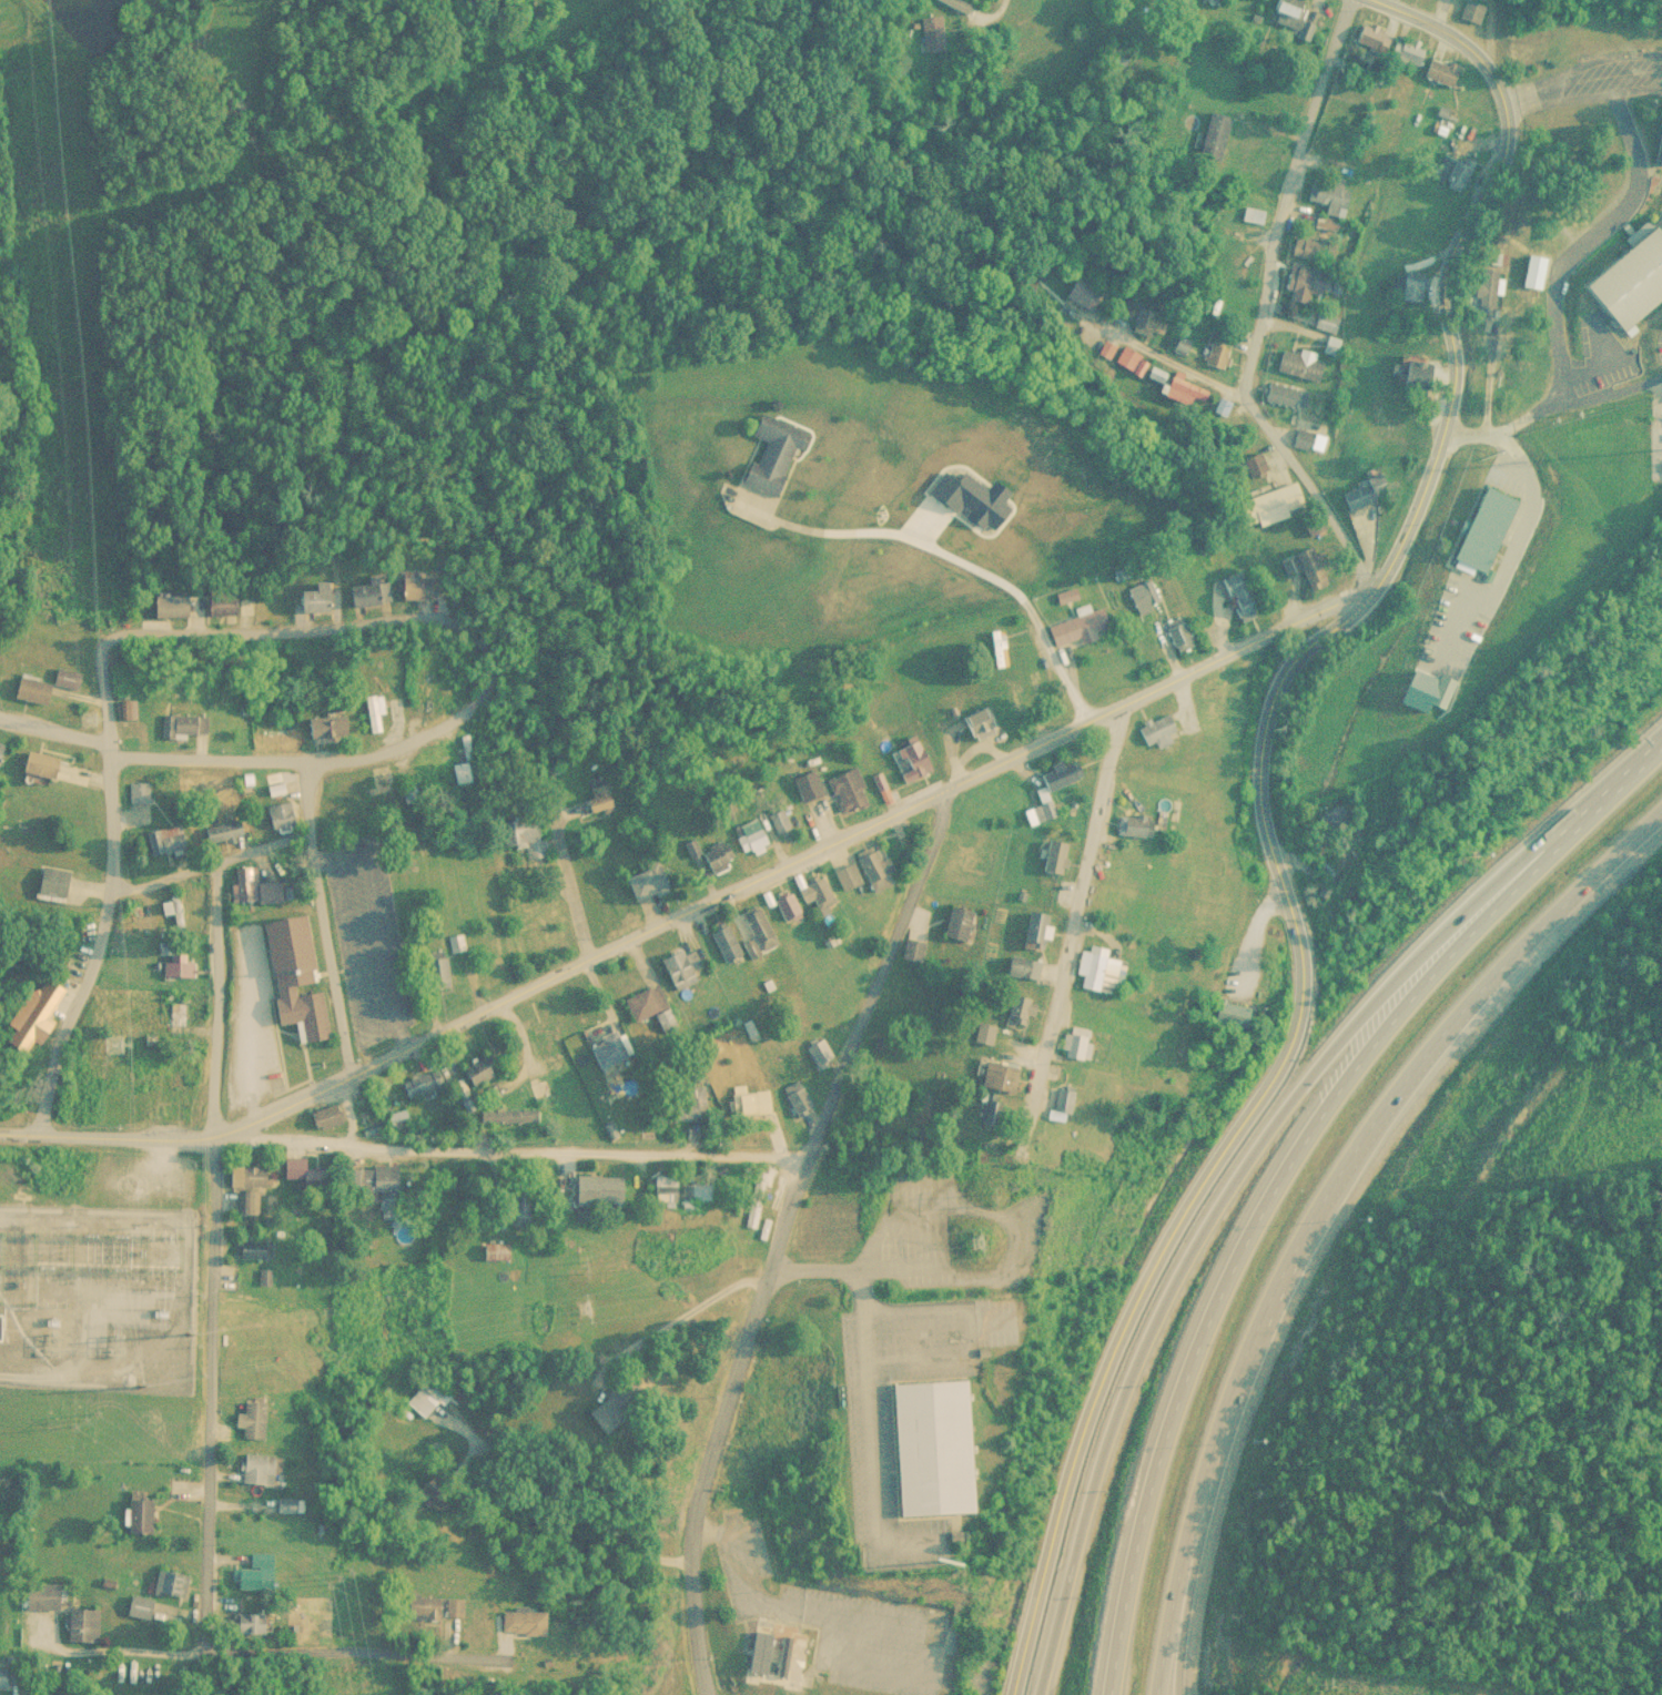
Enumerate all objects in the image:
building: (1208, 0)
building: (1175, 7)
road: (1004, 9)
building: (1471, 10)
road: (1398, 14)
building: (1291, 17)
building: (932, 32)
building: (1365, 32)
building: (1403, 49)
building: (1436, 69)
building: (1213, 134)
building: (1453, 170)
building: (1328, 195)
building: (1325, 222)
building: (1310, 248)
road: (1263, 253)
building: (1492, 257)
building: (1625, 275)
building: (1301, 281)
building: (1406, 284)
building: (1482, 290)
building: (1094, 296)
road: (1440, 297)
building: (1326, 321)
building: (1215, 348)
building: (1298, 363)
building: (1407, 369)
building: (1180, 389)
building: (1281, 394)
building: (778, 457)
building: (1253, 461)
road: (1111, 489)
building: (1358, 491)
building: (1268, 504)
building: (950, 514)
building: (1479, 528)
building: (1304, 565)
building: (894, 576)
building: (418, 588)
building: (1237, 595)
building: (367, 596)
building: (1142, 596)
building: (317, 599)
building: (828, 600)
building: (175, 606)
building: (1076, 626)
road: (326, 631)
building: (1176, 633)
building: (995, 647)
building: (0, 673)
building: (71, 679)
building: (38, 691)
building: (1433, 691)
building: (125, 710)
building: (268, 712)
power tower: (90, 722)
building: (974, 722)
building: (184, 725)
building: (330, 727)
building: (1154, 729)
building: (131, 730)
building: (3, 755)
building: (913, 761)
road: (244, 764)
building: (466, 764)
building: (48, 765)
building: (1055, 774)
building: (810, 786)
building: (852, 791)
building: (140, 792)
building: (413, 792)
building: (589, 799)
road: (303, 801)
building: (355, 802)
building: (1038, 810)
building: (285, 816)
building: (1331, 819)
building: (780, 822)
building: (1131, 824)
building: (225, 832)
building: (529, 835)
building: (753, 835)
building: (169, 840)
building: (720, 853)
building: (1058, 856)
building: (881, 867)
road: (205, 869)
building: (851, 876)
building: (650, 880)
building: (54, 882)
building: (261, 887)
road: (560, 889)
road: (114, 891)
building: (821, 894)
road: (696, 904)
building: (788, 907)
building: (174, 911)
road: (213, 913)
building: (961, 923)
building: (1042, 931)
building: (764, 932)
building: (726, 944)
building: (916, 950)
road: (1080, 961)
building: (178, 966)
building: (1023, 967)
building: (681, 971)
building: (443, 973)
building: (1105, 973)
road: (878, 974)
building: (297, 977)
building: (653, 1007)
building: (1023, 1012)
building: (179, 1014)
building: (1235, 1014)
building: (32, 1025)
building: (989, 1035)
power tower: (120, 1043)
building: (1081, 1043)
building: (550, 1049)
building: (615, 1049)
building: (818, 1055)
building: (484, 1070)
building: (1005, 1078)
building: (179, 1080)
building: (424, 1084)
building: (800, 1098)
building: (1068, 1100)
building: (992, 1110)
building: (331, 1117)
building: (511, 1117)
road: (1230, 1130)
road: (513, 1149)
road: (1251, 1154)
road: (1287, 1165)
building: (304, 1170)
building: (252, 1177)
building: (384, 1178)
building: (683, 1190)
building: (606, 1191)
road: (1315, 1196)
power tower: (987, 1199)
building: (250, 1202)
power tower: (135, 1240)
power tower: (103, 1241)
building: (259, 1249)
building: (499, 1251)
power tower: (584, 1268)
power tower: (88, 1272)
power substation: (97, 1296)
road: (219, 1298)
building: (3, 1328)
power tower: (186, 1333)
building: (425, 1400)
building: (628, 1403)
building: (257, 1418)
power tower: (81, 1423)
road: (726, 1425)
building: (923, 1444)
building: (262, 1469)
building: (143, 1515)
building: (260, 1573)
road: (1190, 1579)
power tower: (343, 1581)
building: (173, 1582)
building: (48, 1595)
building: (142, 1606)
building: (535, 1622)
building: (88, 1624)
building: (255, 1624)
building: (783, 1656)
building: (8, 1676)

